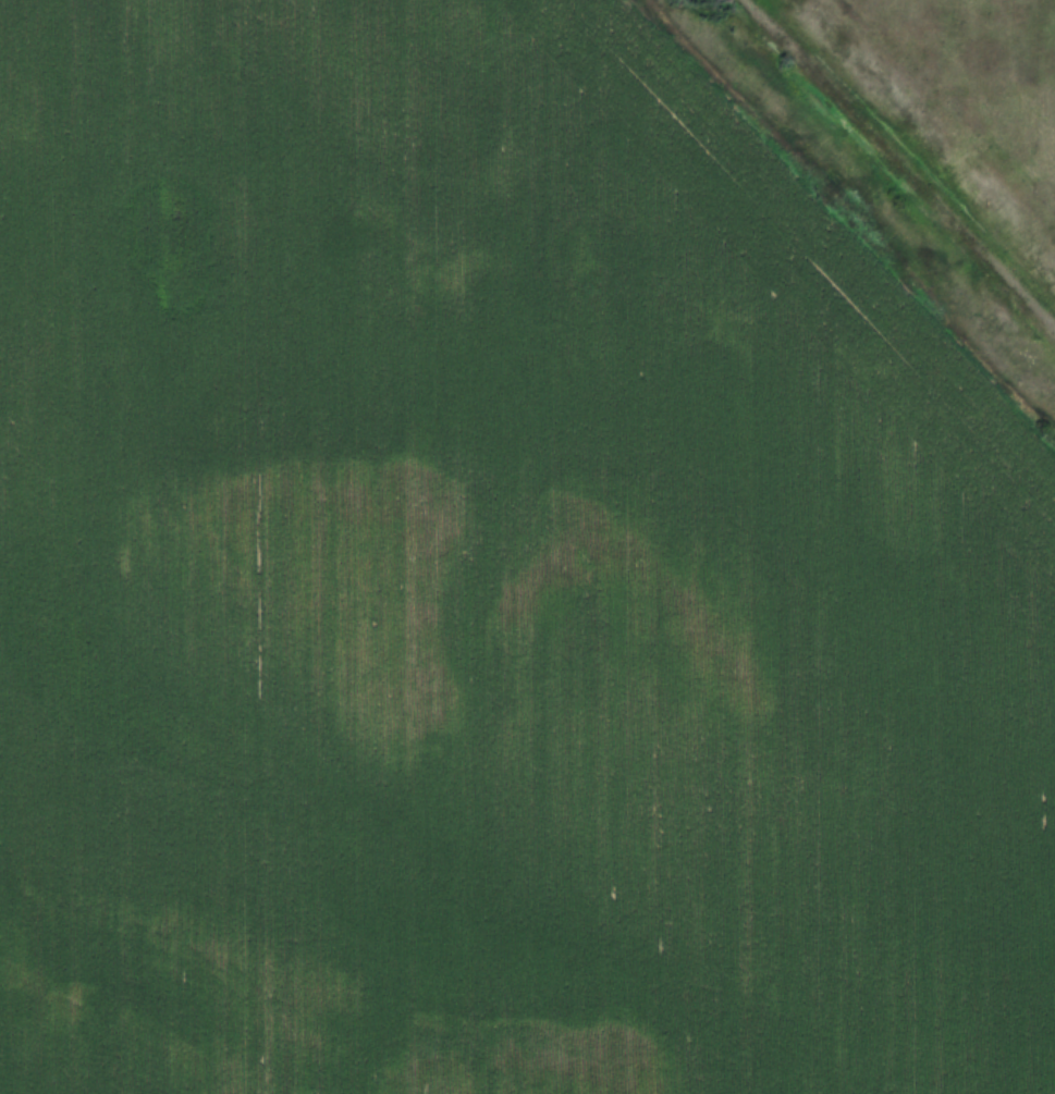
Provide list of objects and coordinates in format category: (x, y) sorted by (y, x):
crop: (490, 585)

